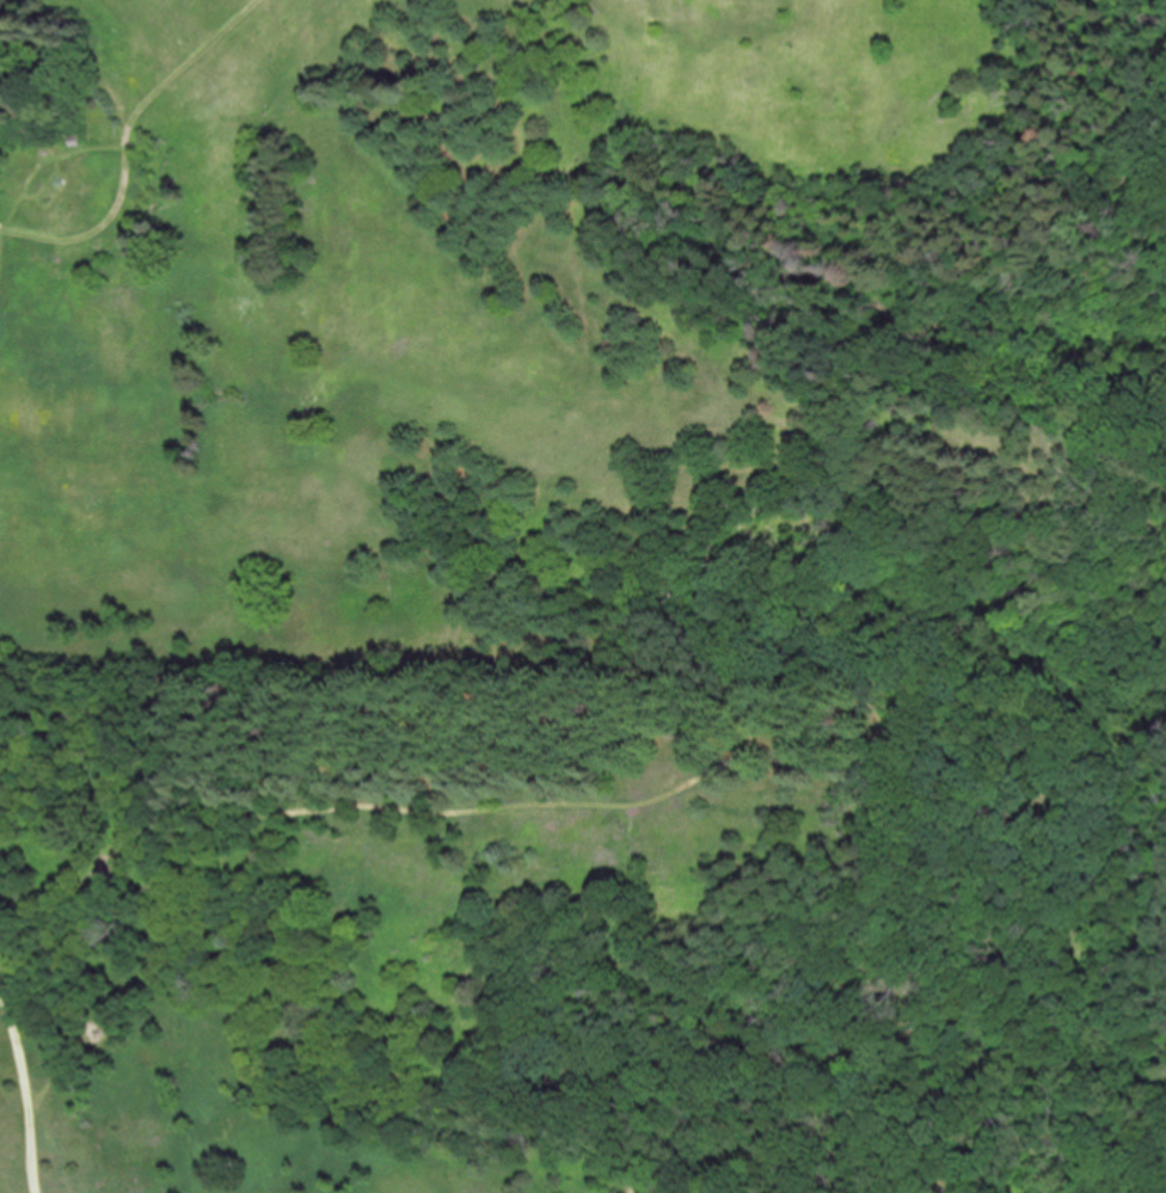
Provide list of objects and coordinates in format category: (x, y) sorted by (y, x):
road: (127, 143)
road: (48, 165)
road: (1, 242)
park: (583, 596)
road: (613, 762)
road: (43, 918)
road: (61, 1059)
road: (26, 1093)
road: (577, 1175)

